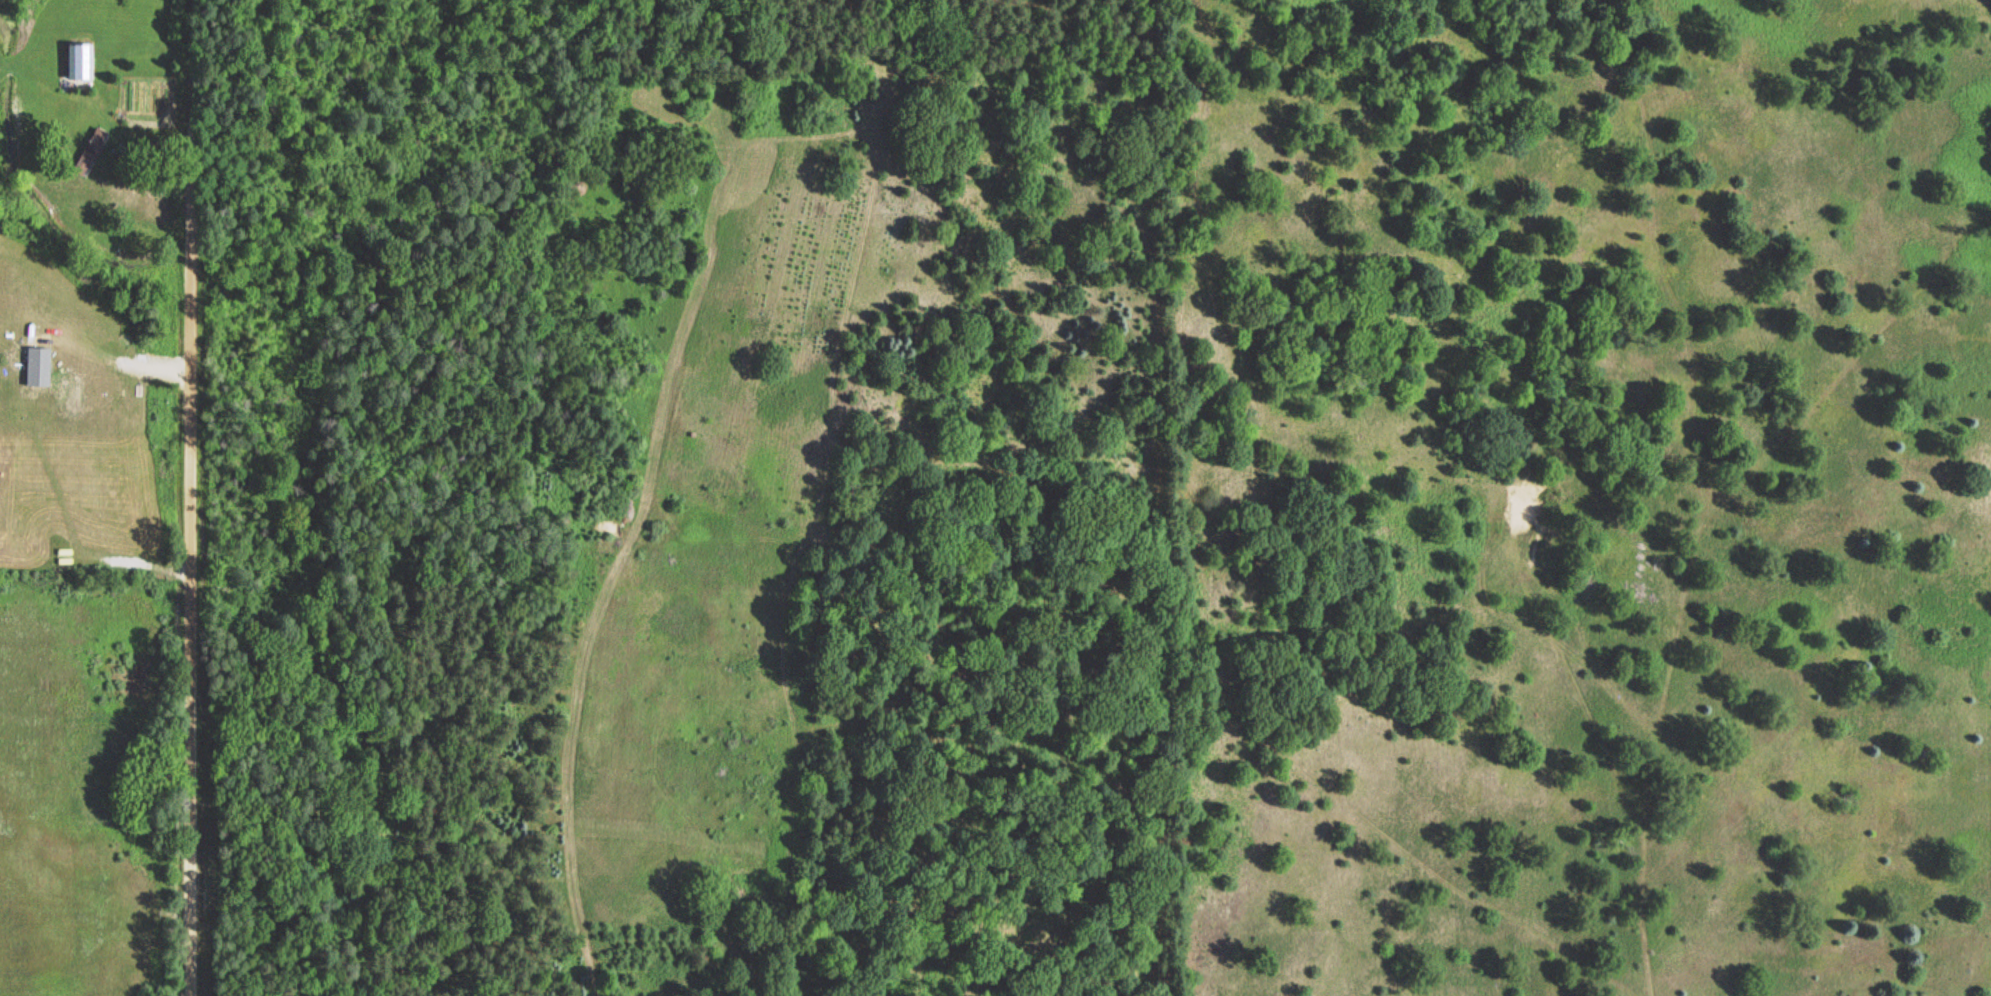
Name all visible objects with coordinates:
building: (75, 64)
road: (193, 625)

